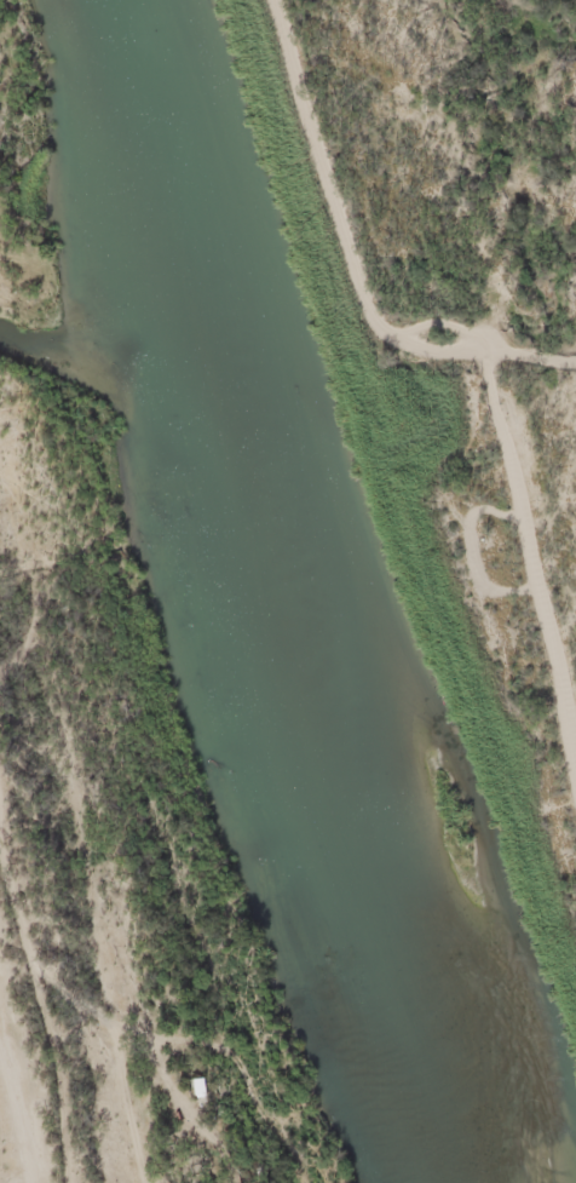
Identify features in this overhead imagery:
road: (502, 173)
river: (287, 593)

